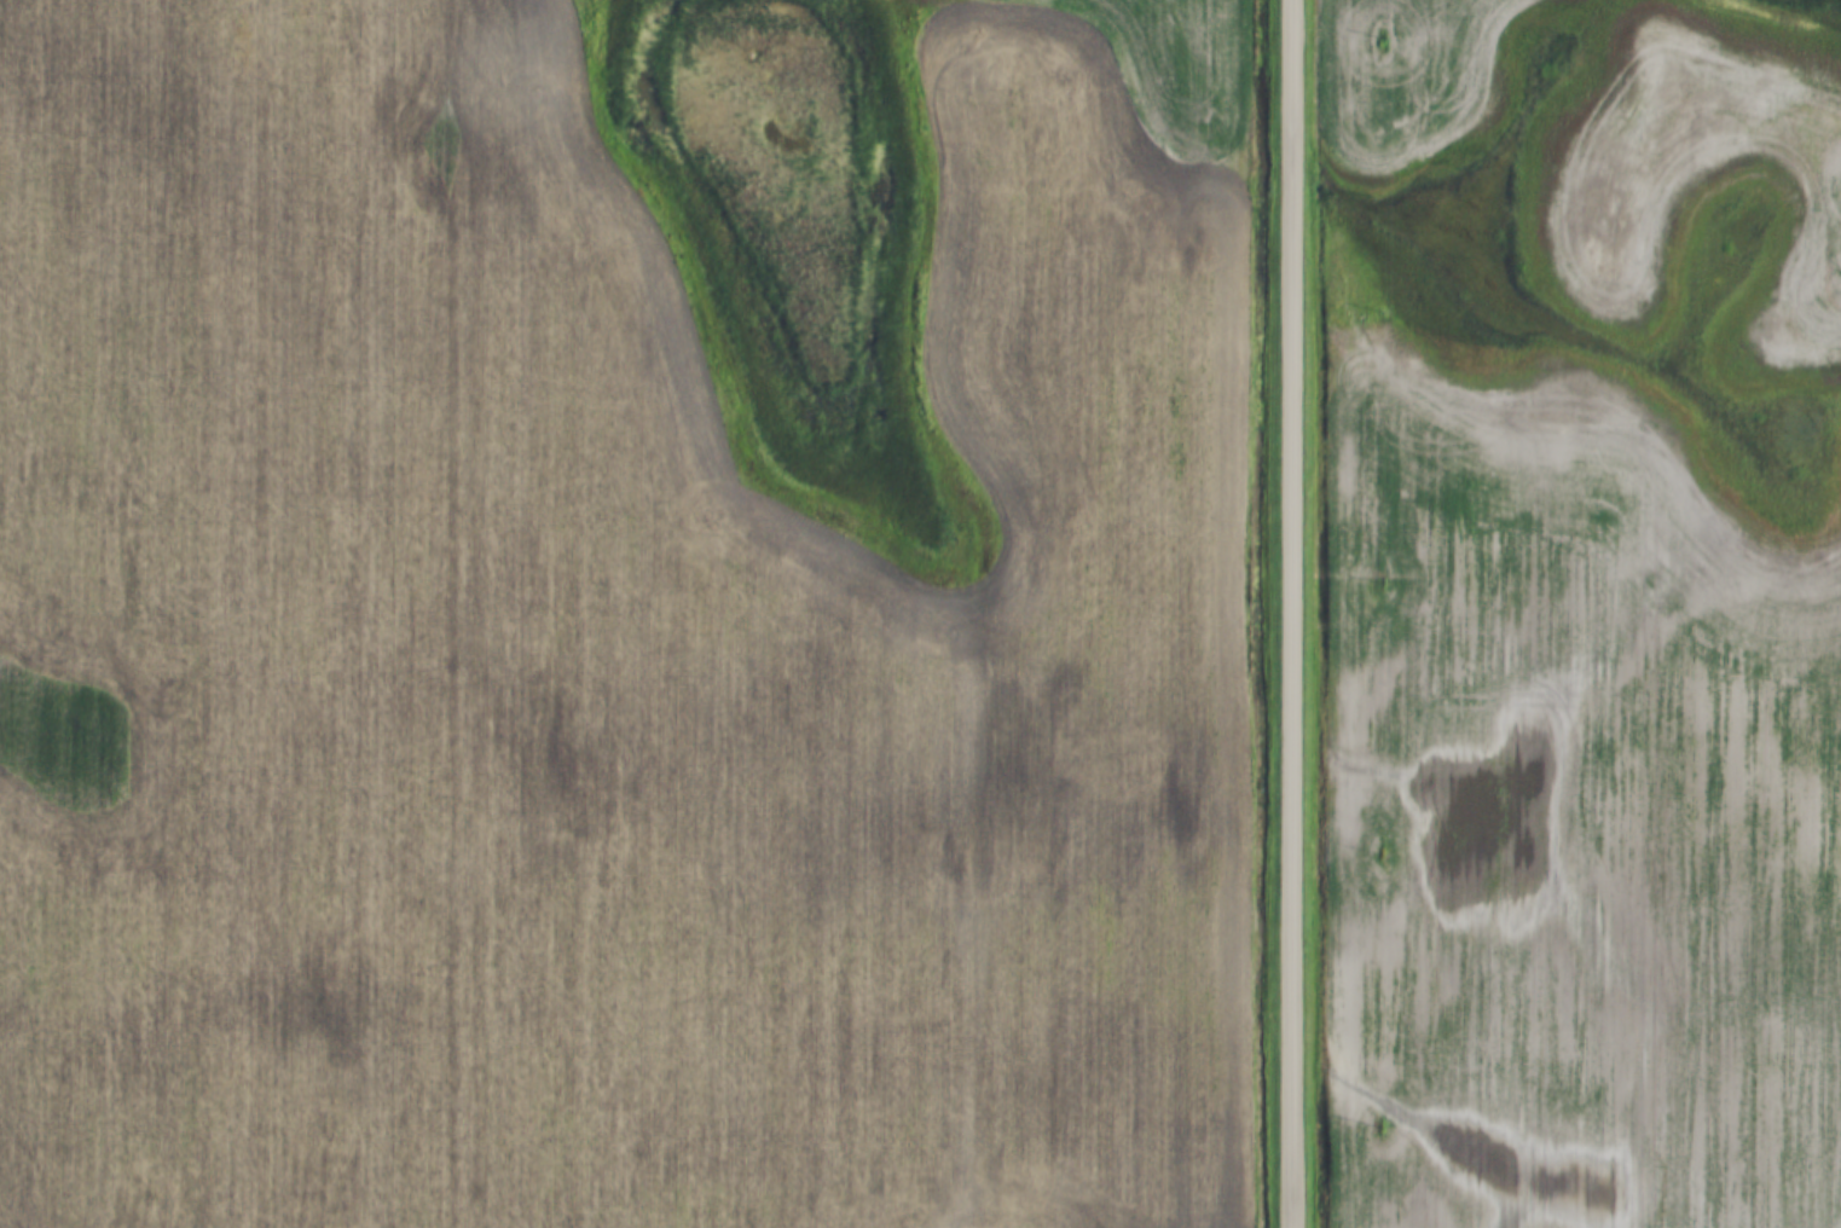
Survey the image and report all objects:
road: (1291, 614)

